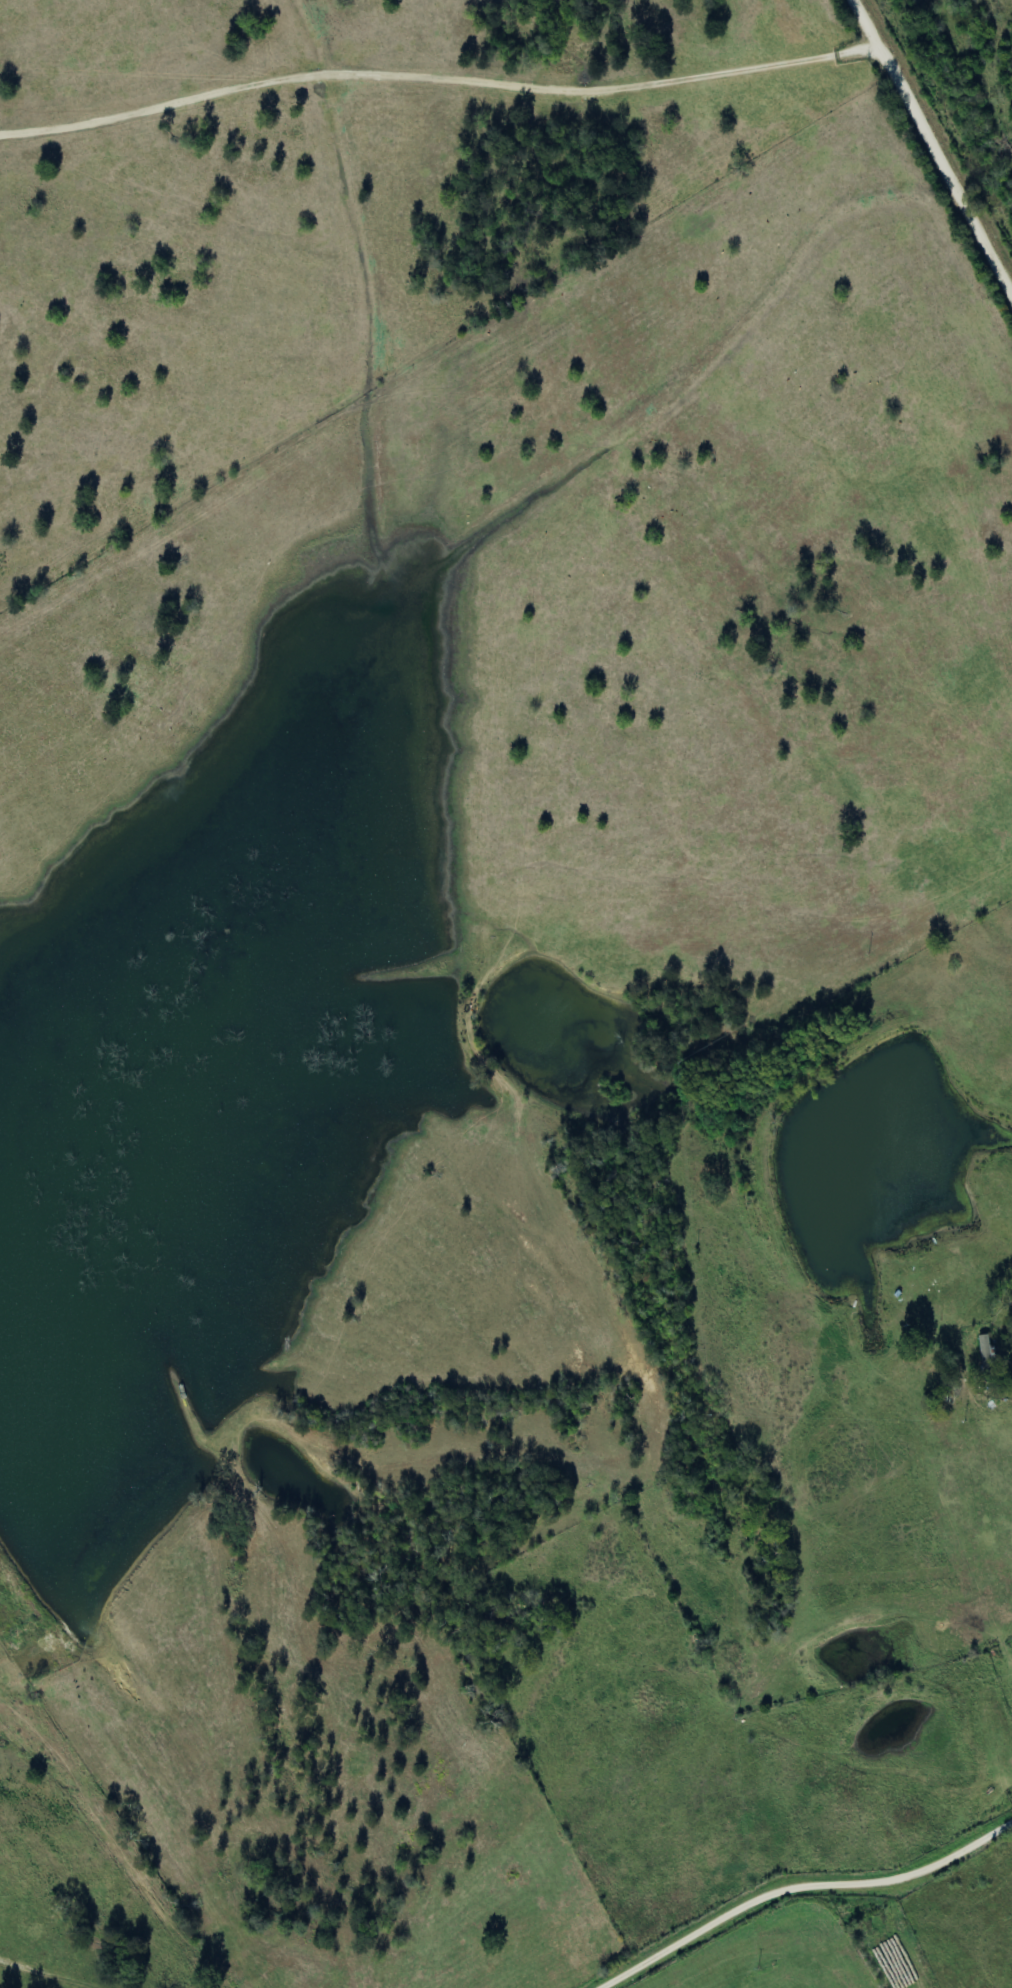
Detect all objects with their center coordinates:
road: (936, 138)
road: (796, 1904)

